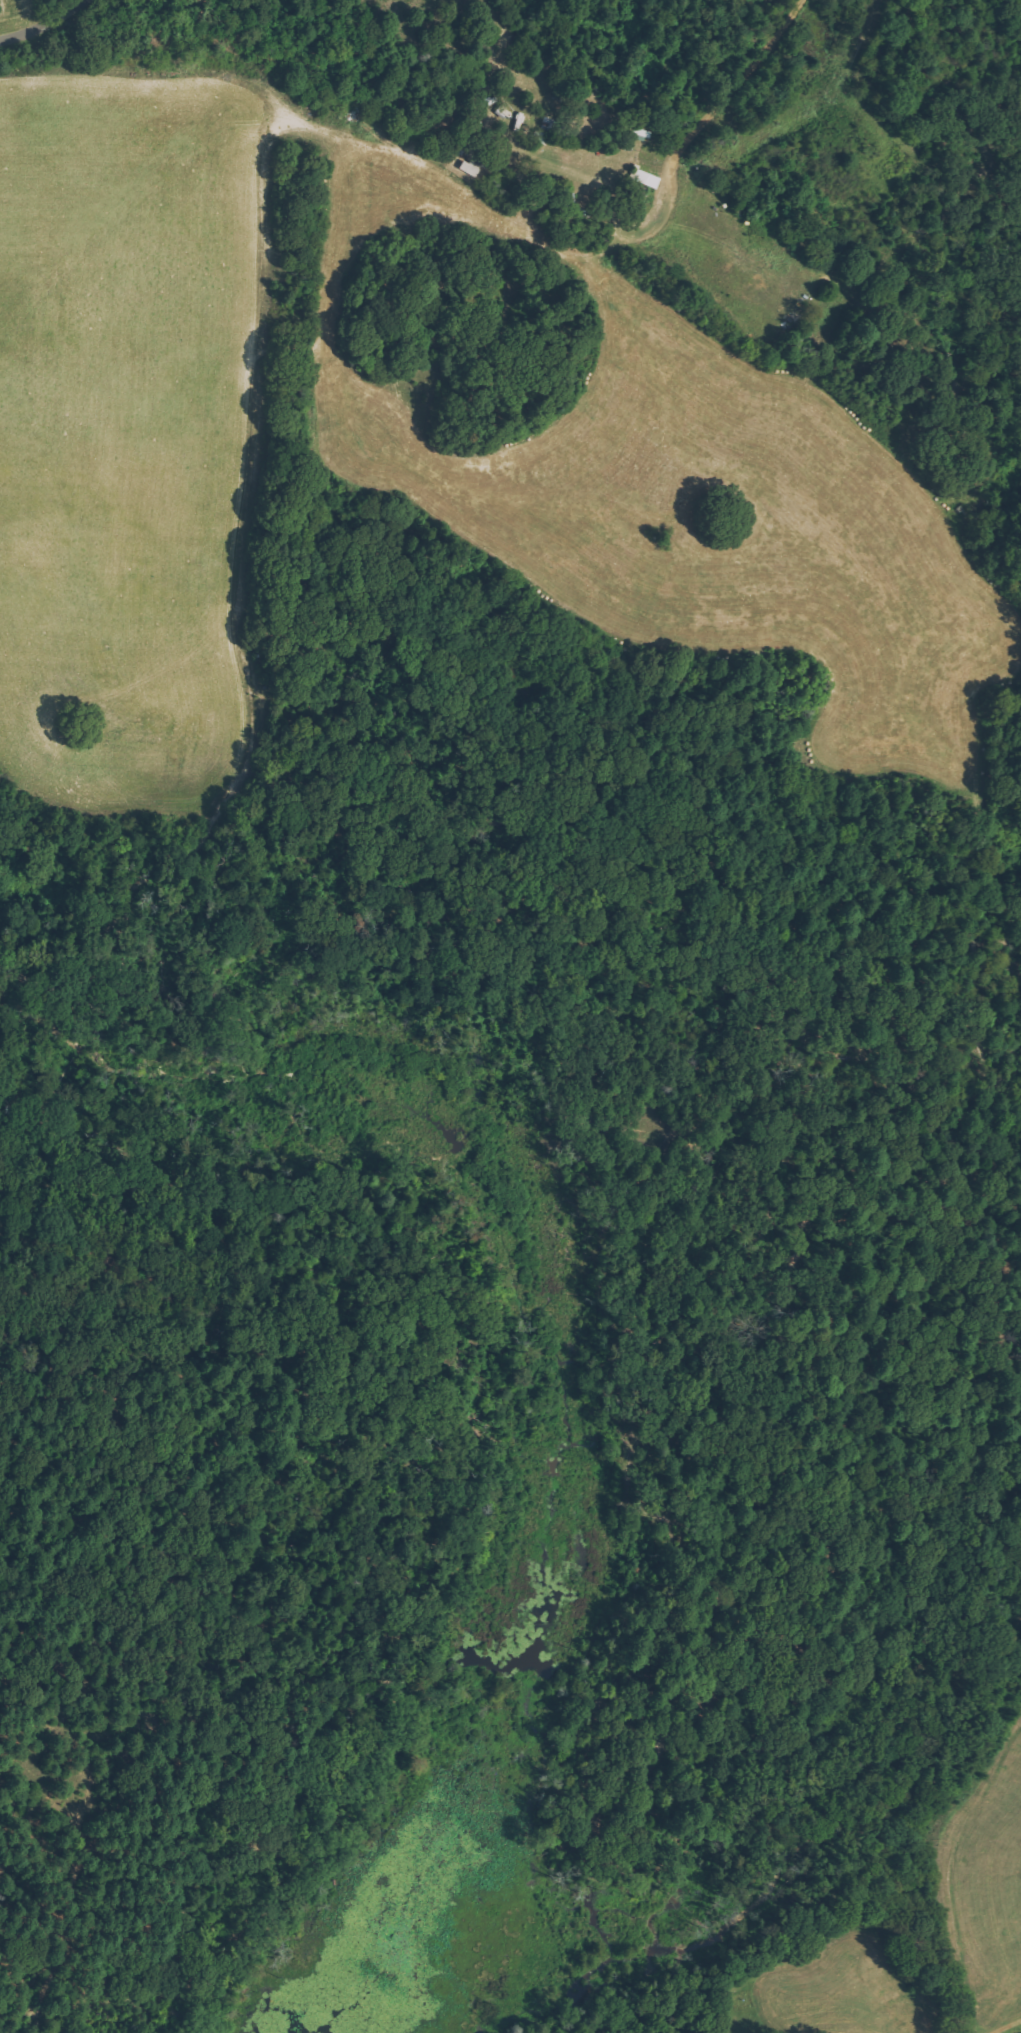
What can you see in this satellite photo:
road: (50, 26)

